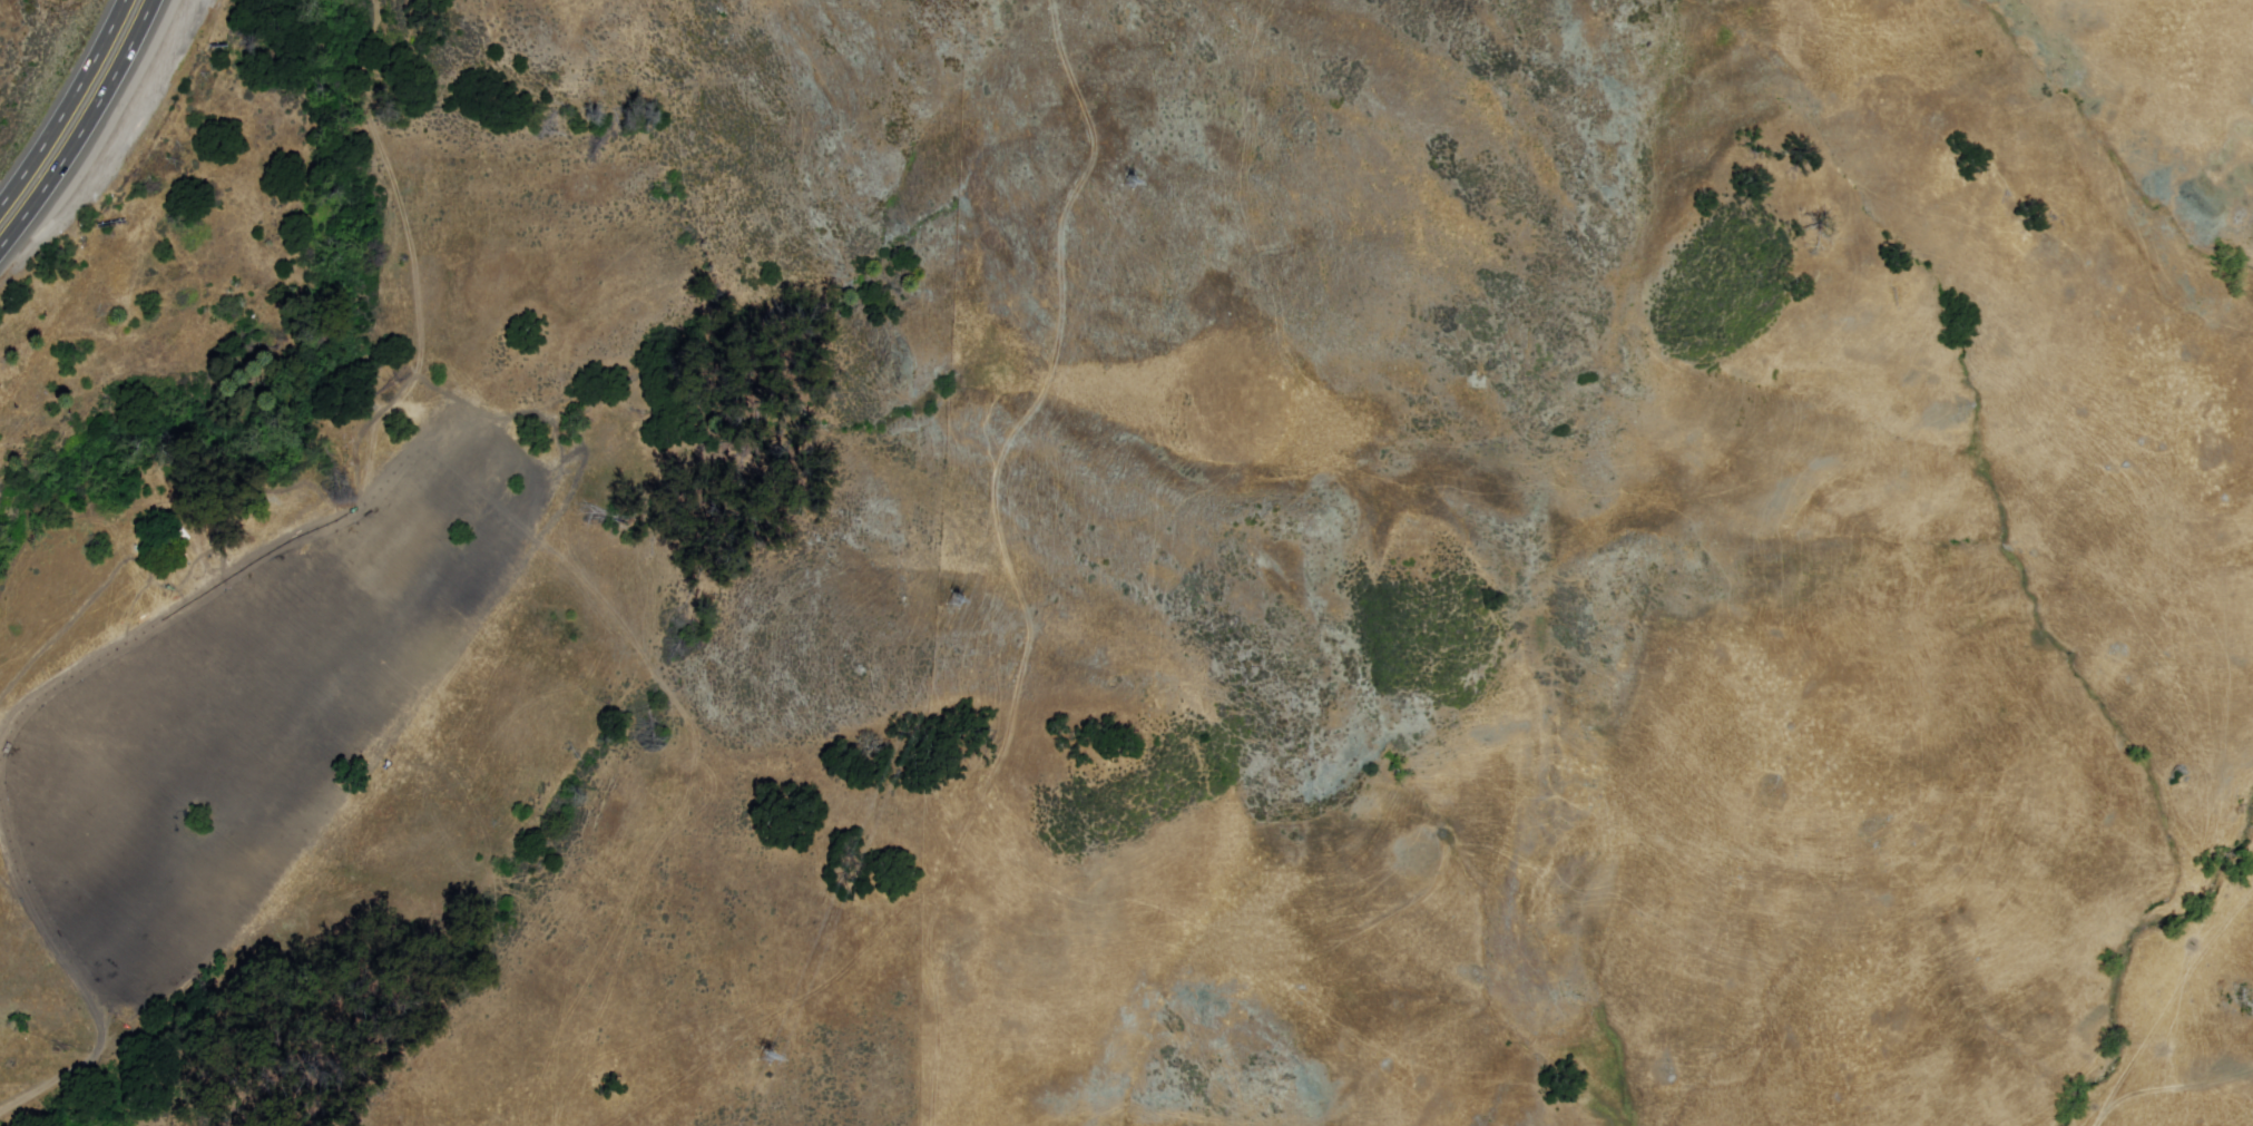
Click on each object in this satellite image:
road: (69, 108)
road: (85, 131)
power tower: (1126, 200)
power tower: (953, 623)
power tower: (761, 1078)
road: (2166, 1085)

